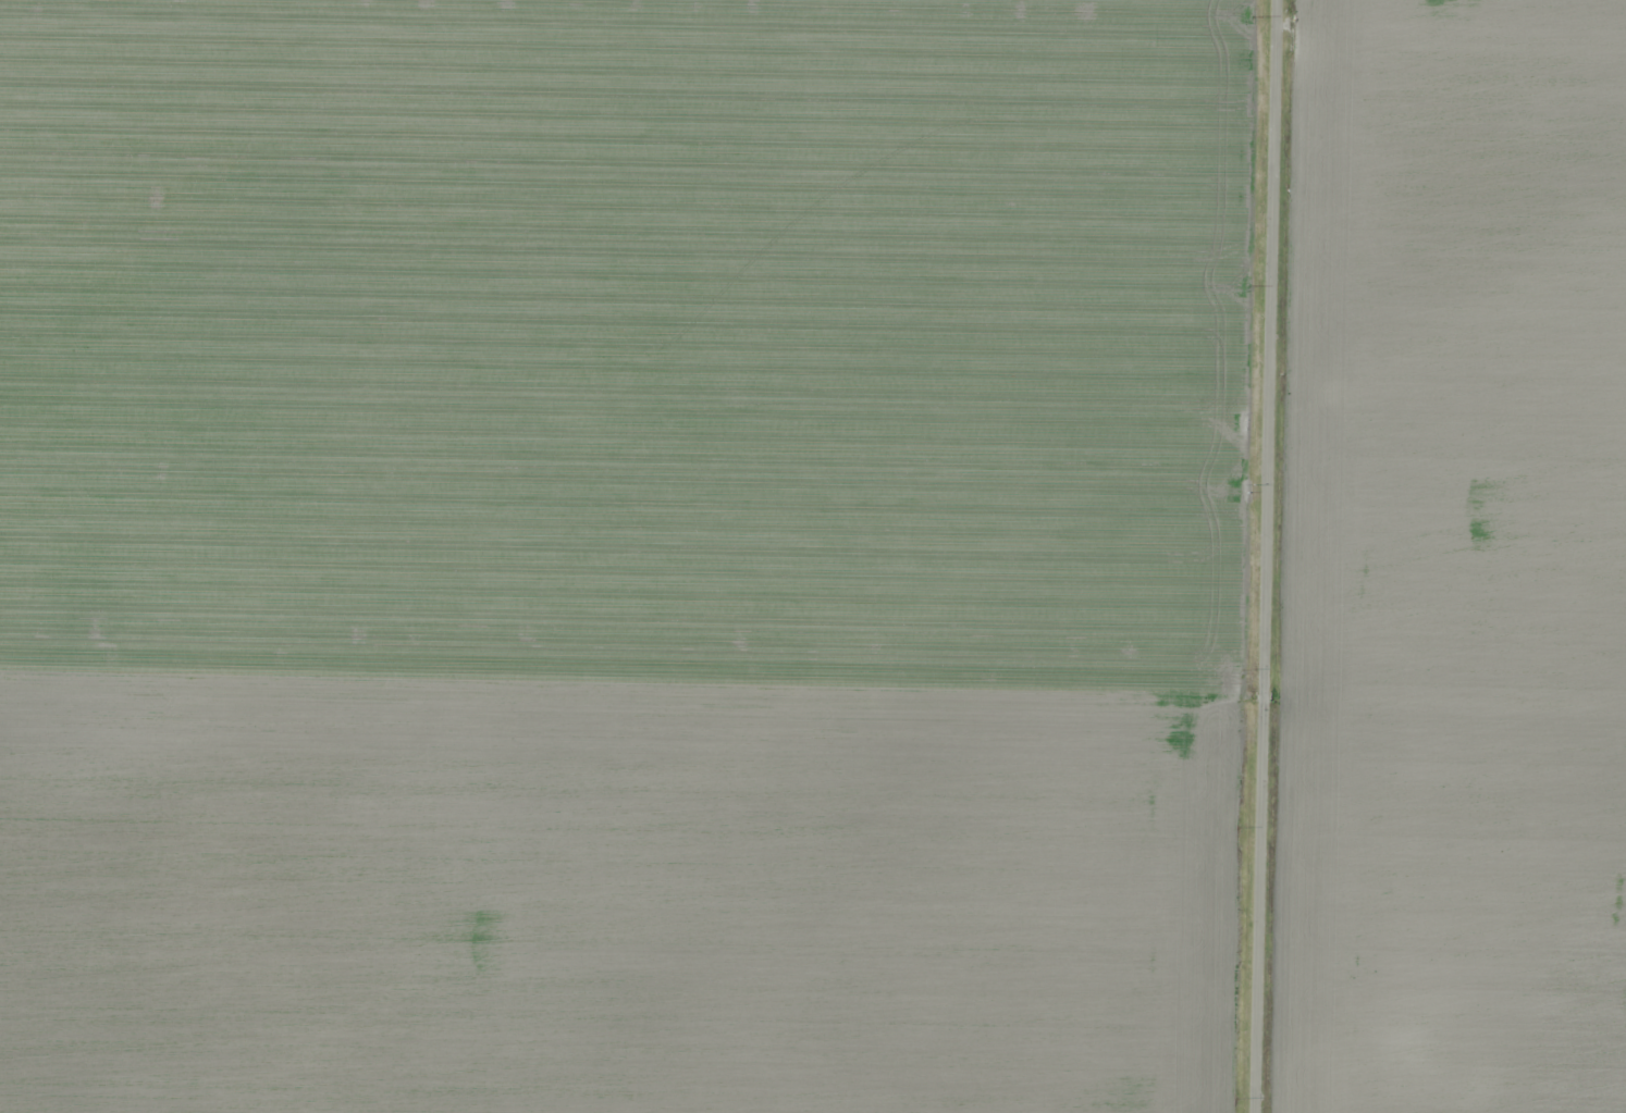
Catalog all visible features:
road: (1261, 556)

